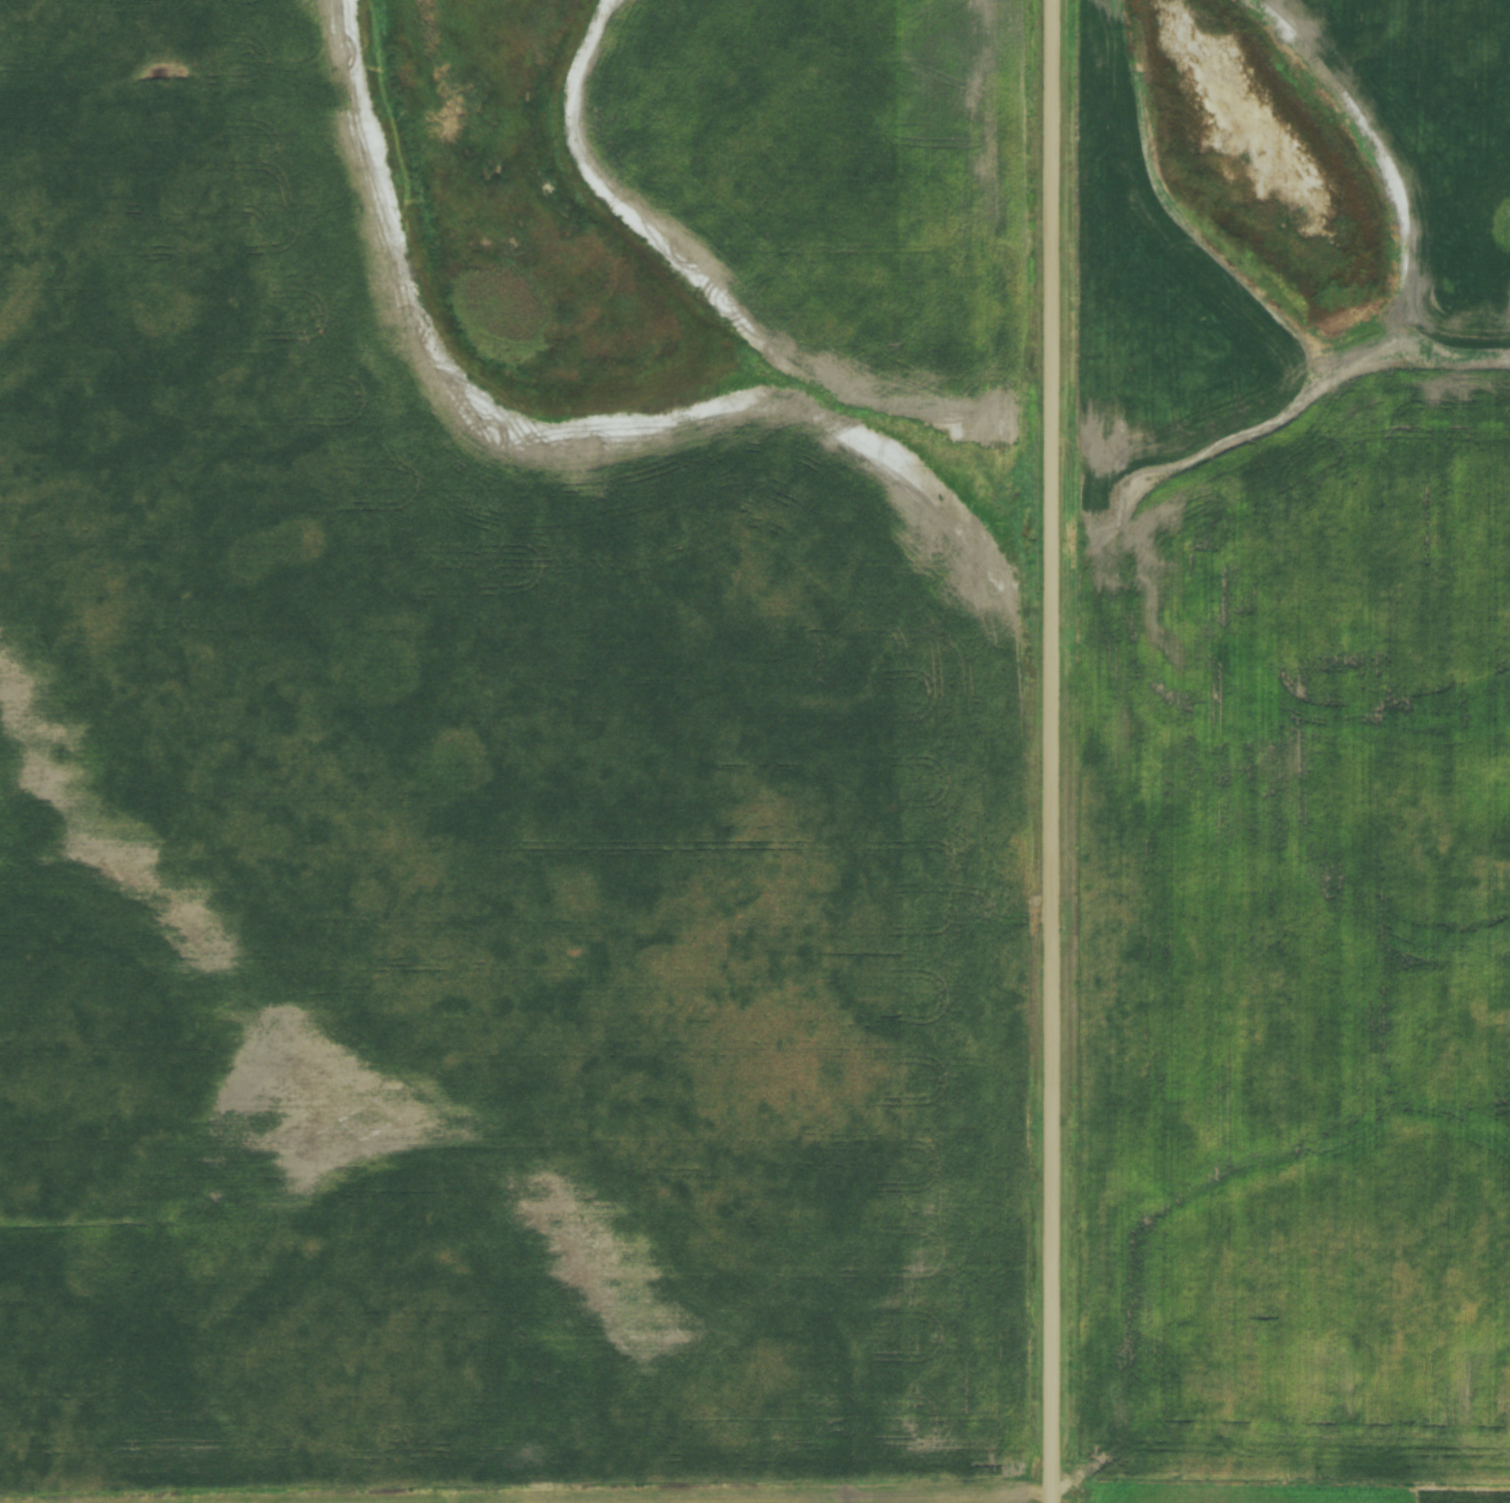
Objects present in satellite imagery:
road: (1052, 751)

